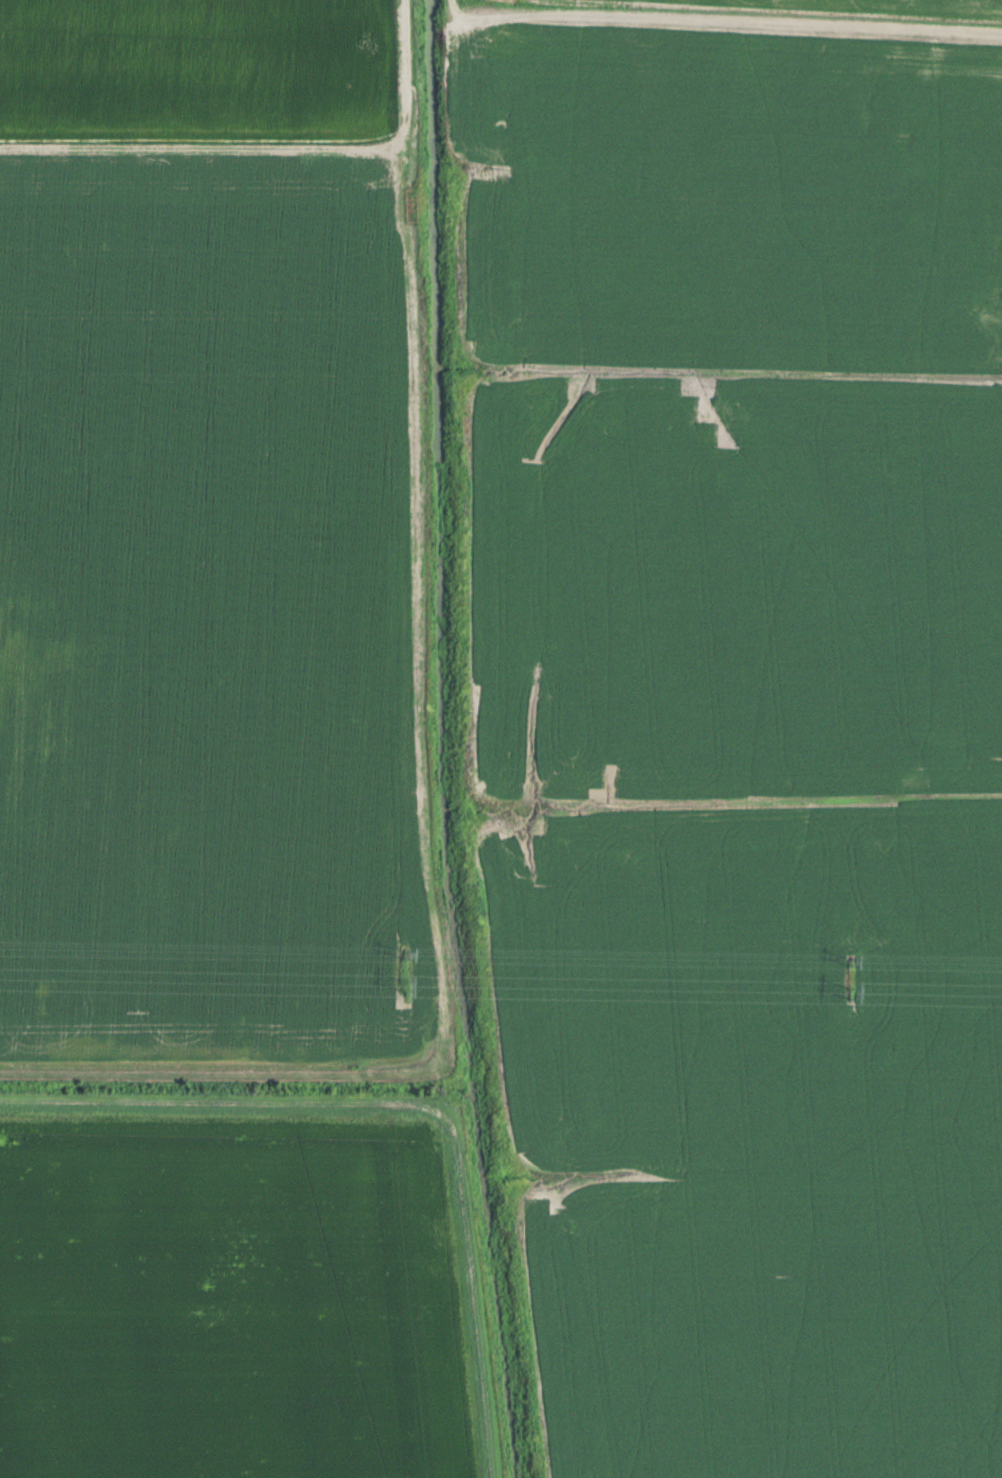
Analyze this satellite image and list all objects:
road: (409, 1099)

